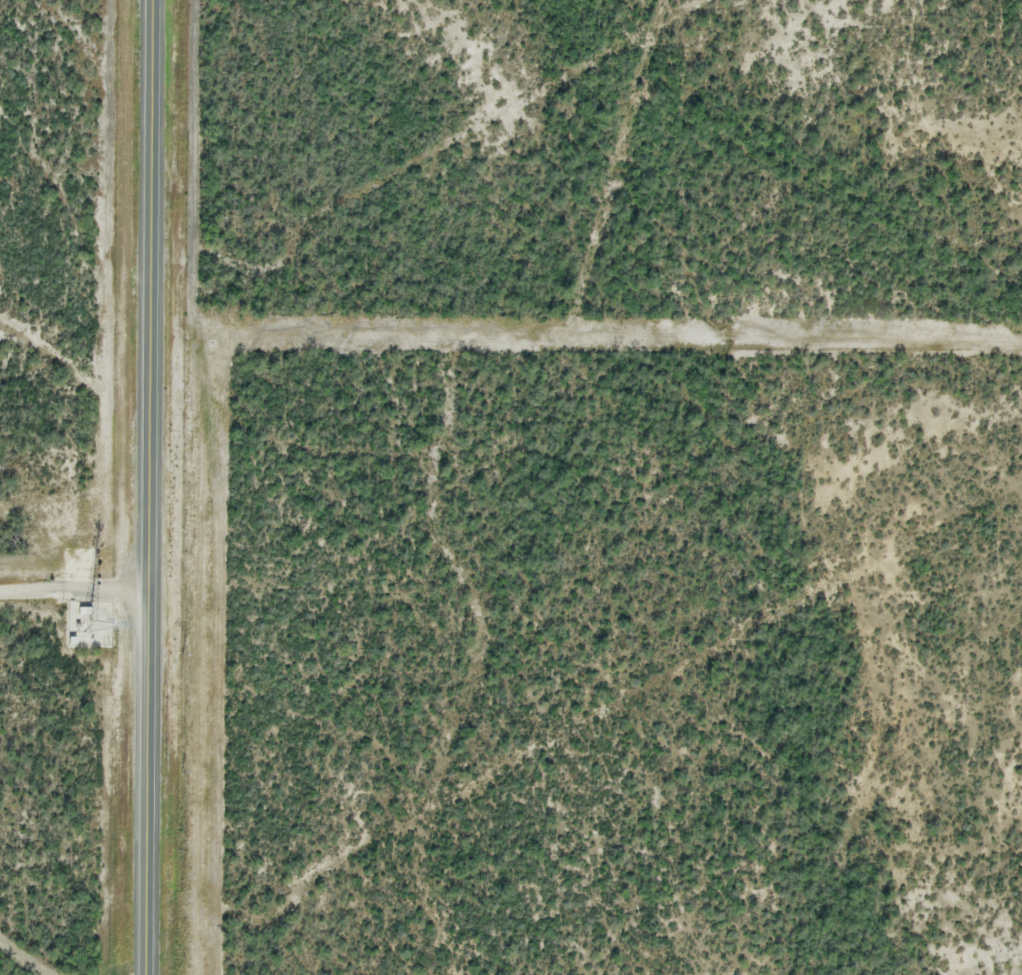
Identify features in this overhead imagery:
road: (153, 487)
road: (76, 591)
road: (20, 959)

